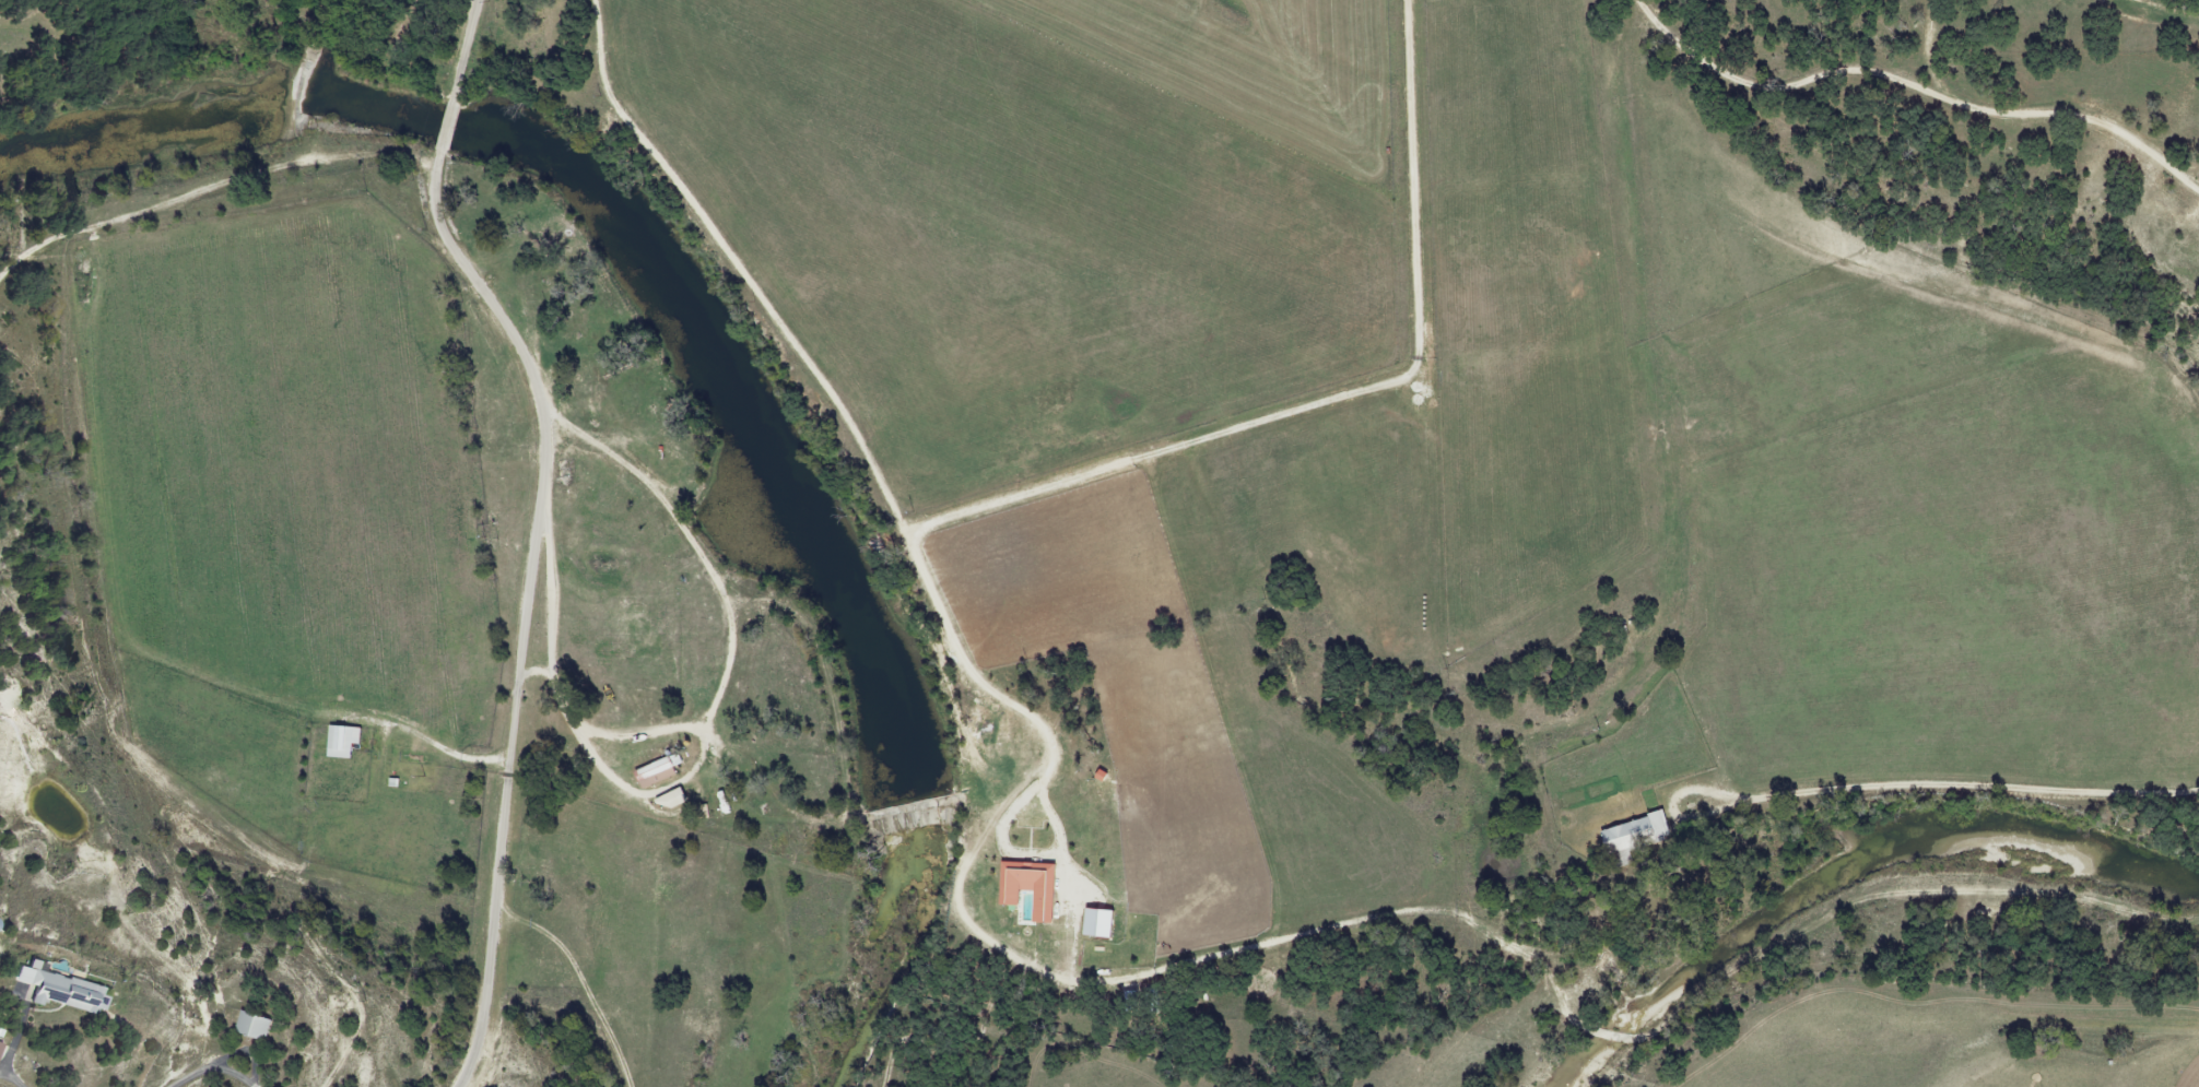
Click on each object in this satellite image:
road: (462, 50)
road: (447, 126)
road: (746, 273)
river: (698, 350)
road: (1169, 463)
road: (532, 609)
road: (554, 621)
road: (733, 626)
building: (651, 773)
building: (667, 800)
building: (1628, 837)
river: (1835, 872)
building: (62, 993)
building: (251, 1027)
road: (3, 1065)
road: (213, 1068)

